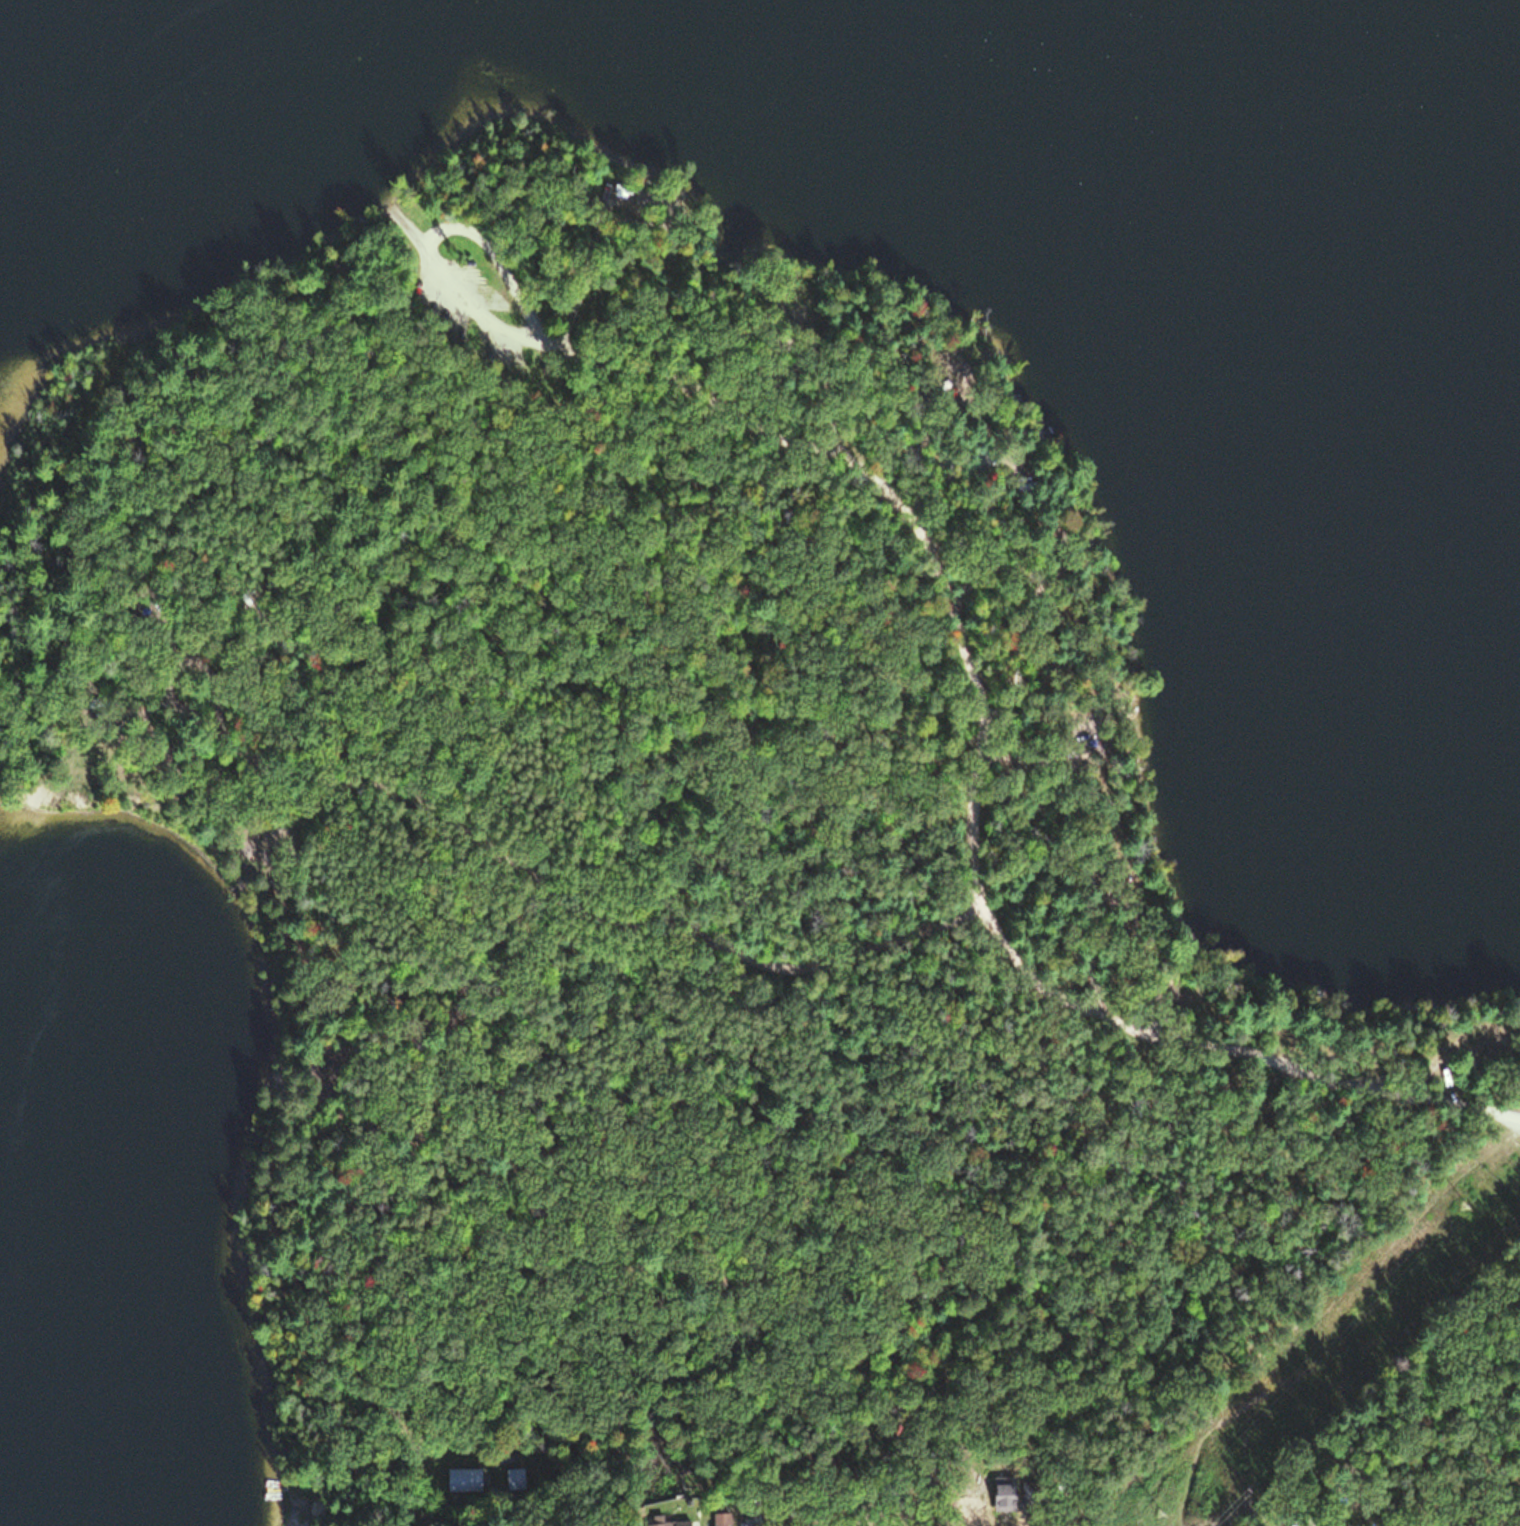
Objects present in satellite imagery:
river: (172, 101)
river: (1164, 136)
parking lot: (467, 291)
road: (816, 456)
building: (1121, 897)
road: (757, 972)
building: (1492, 1034)
power tower: (1447, 1200)
building: (512, 1478)
building: (461, 1479)
building: (997, 1496)
power tower: (1150, 1509)
building: (718, 1519)
building: (747, 1519)
building: (670, 1523)

